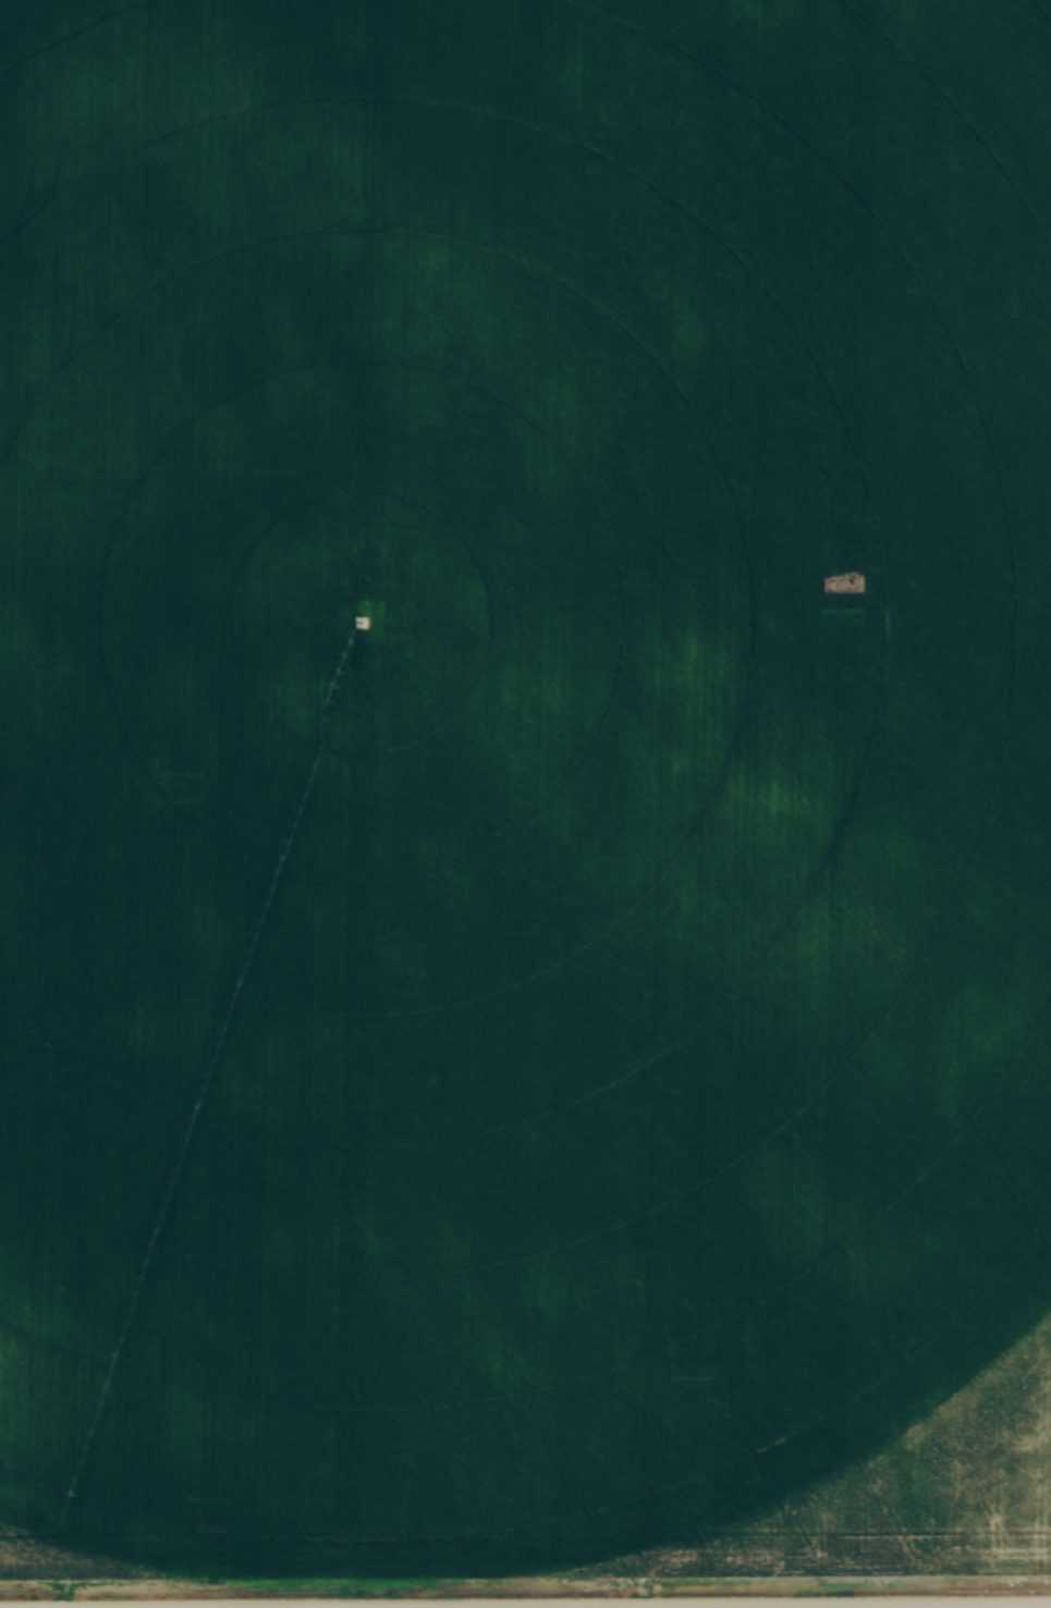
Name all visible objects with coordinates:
road: (725, 1606)

